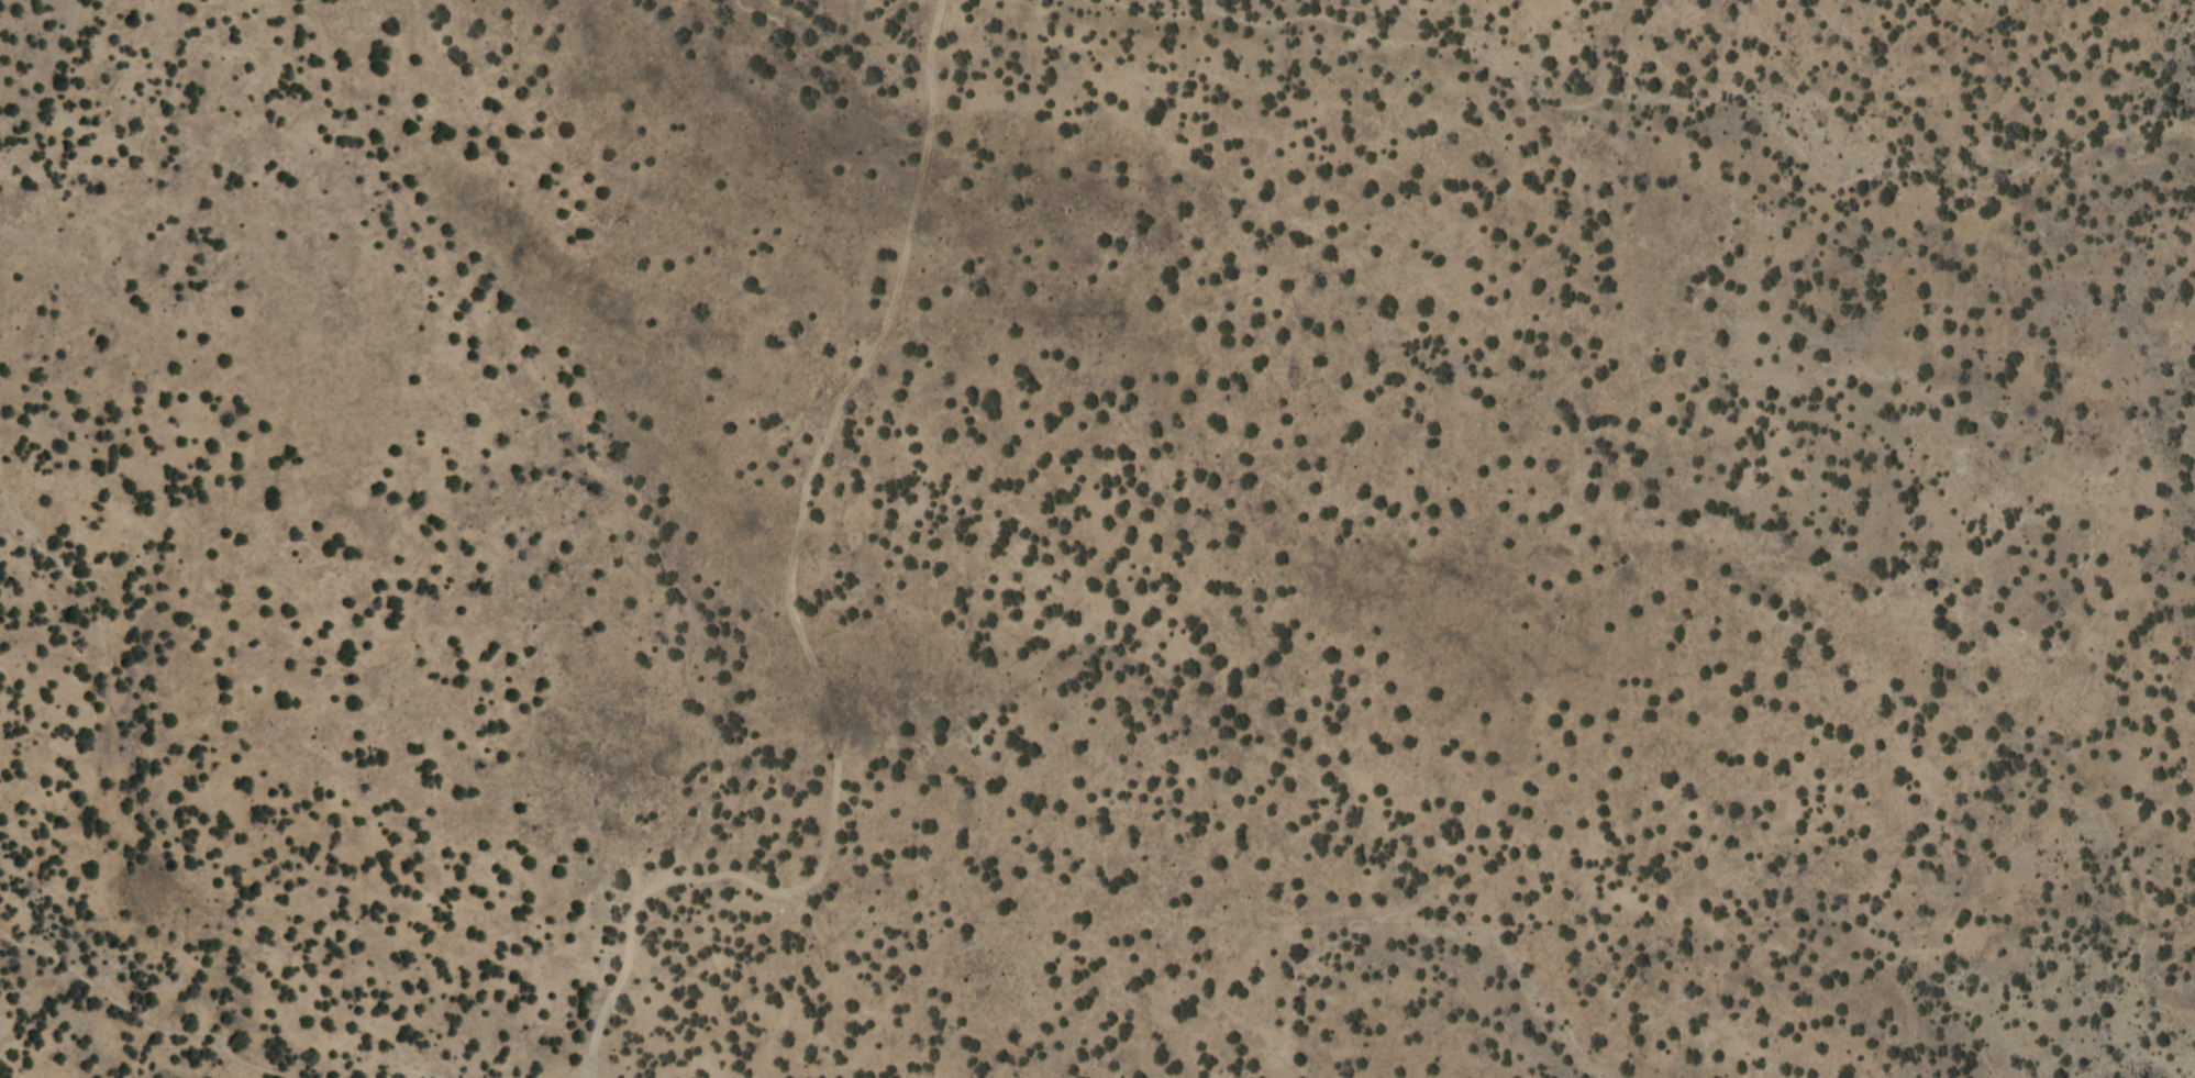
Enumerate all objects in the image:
road: (824, 596)
road: (584, 935)

